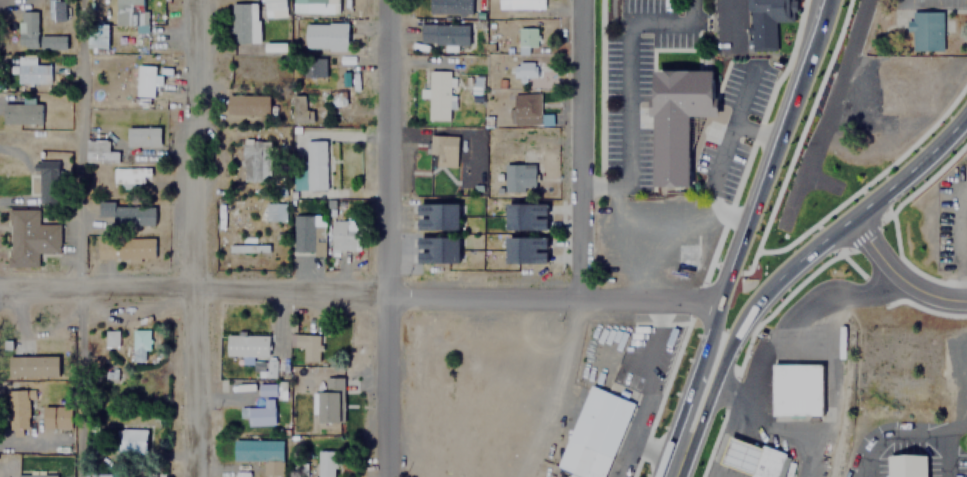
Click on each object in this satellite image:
building: (521, 4)
building: (320, 7)
building: (449, 7)
building: (273, 8)
building: (55, 11)
building: (129, 13)
building: (766, 21)
building: (243, 22)
building: (926, 30)
building: (35, 34)
building: (443, 34)
building: (99, 36)
building: (324, 36)
building: (528, 40)
building: (313, 67)
building: (523, 70)
building: (31, 71)
building: (147, 79)
building: (900, 85)
building: (438, 94)
building: (334, 97)
building: (247, 103)
building: (300, 107)
building: (528, 109)
building: (21, 112)
road: (830, 113)
building: (678, 118)
building: (142, 135)
road: (593, 146)
road: (76, 147)
building: (442, 149)
building: (98, 150)
building: (255, 159)
building: (315, 164)
road: (912, 166)
building: (129, 175)
building: (519, 176)
building: (46, 180)
building: (274, 211)
building: (127, 212)
building: (437, 215)
building: (525, 215)
road: (748, 225)
building: (341, 235)
building: (28, 237)
road: (205, 238)
road: (389, 238)
building: (309, 239)
building: (247, 244)
building: (124, 246)
building: (437, 248)
building: (526, 249)
road: (789, 265)
road: (897, 271)
road: (362, 293)
building: (112, 338)
building: (139, 344)
building: (246, 345)
building: (306, 345)
building: (32, 366)
building: (796, 386)
building: (268, 389)
road: (707, 389)
building: (329, 400)
building: (261, 413)
building: (18, 414)
building: (55, 416)
building: (594, 433)
building: (133, 438)
building: (260, 453)
building: (739, 454)
gas station: (739, 454)
building: (768, 462)
building: (327, 463)
road: (670, 464)
building: (909, 464)
building: (36, 474)
building: (102, 475)

